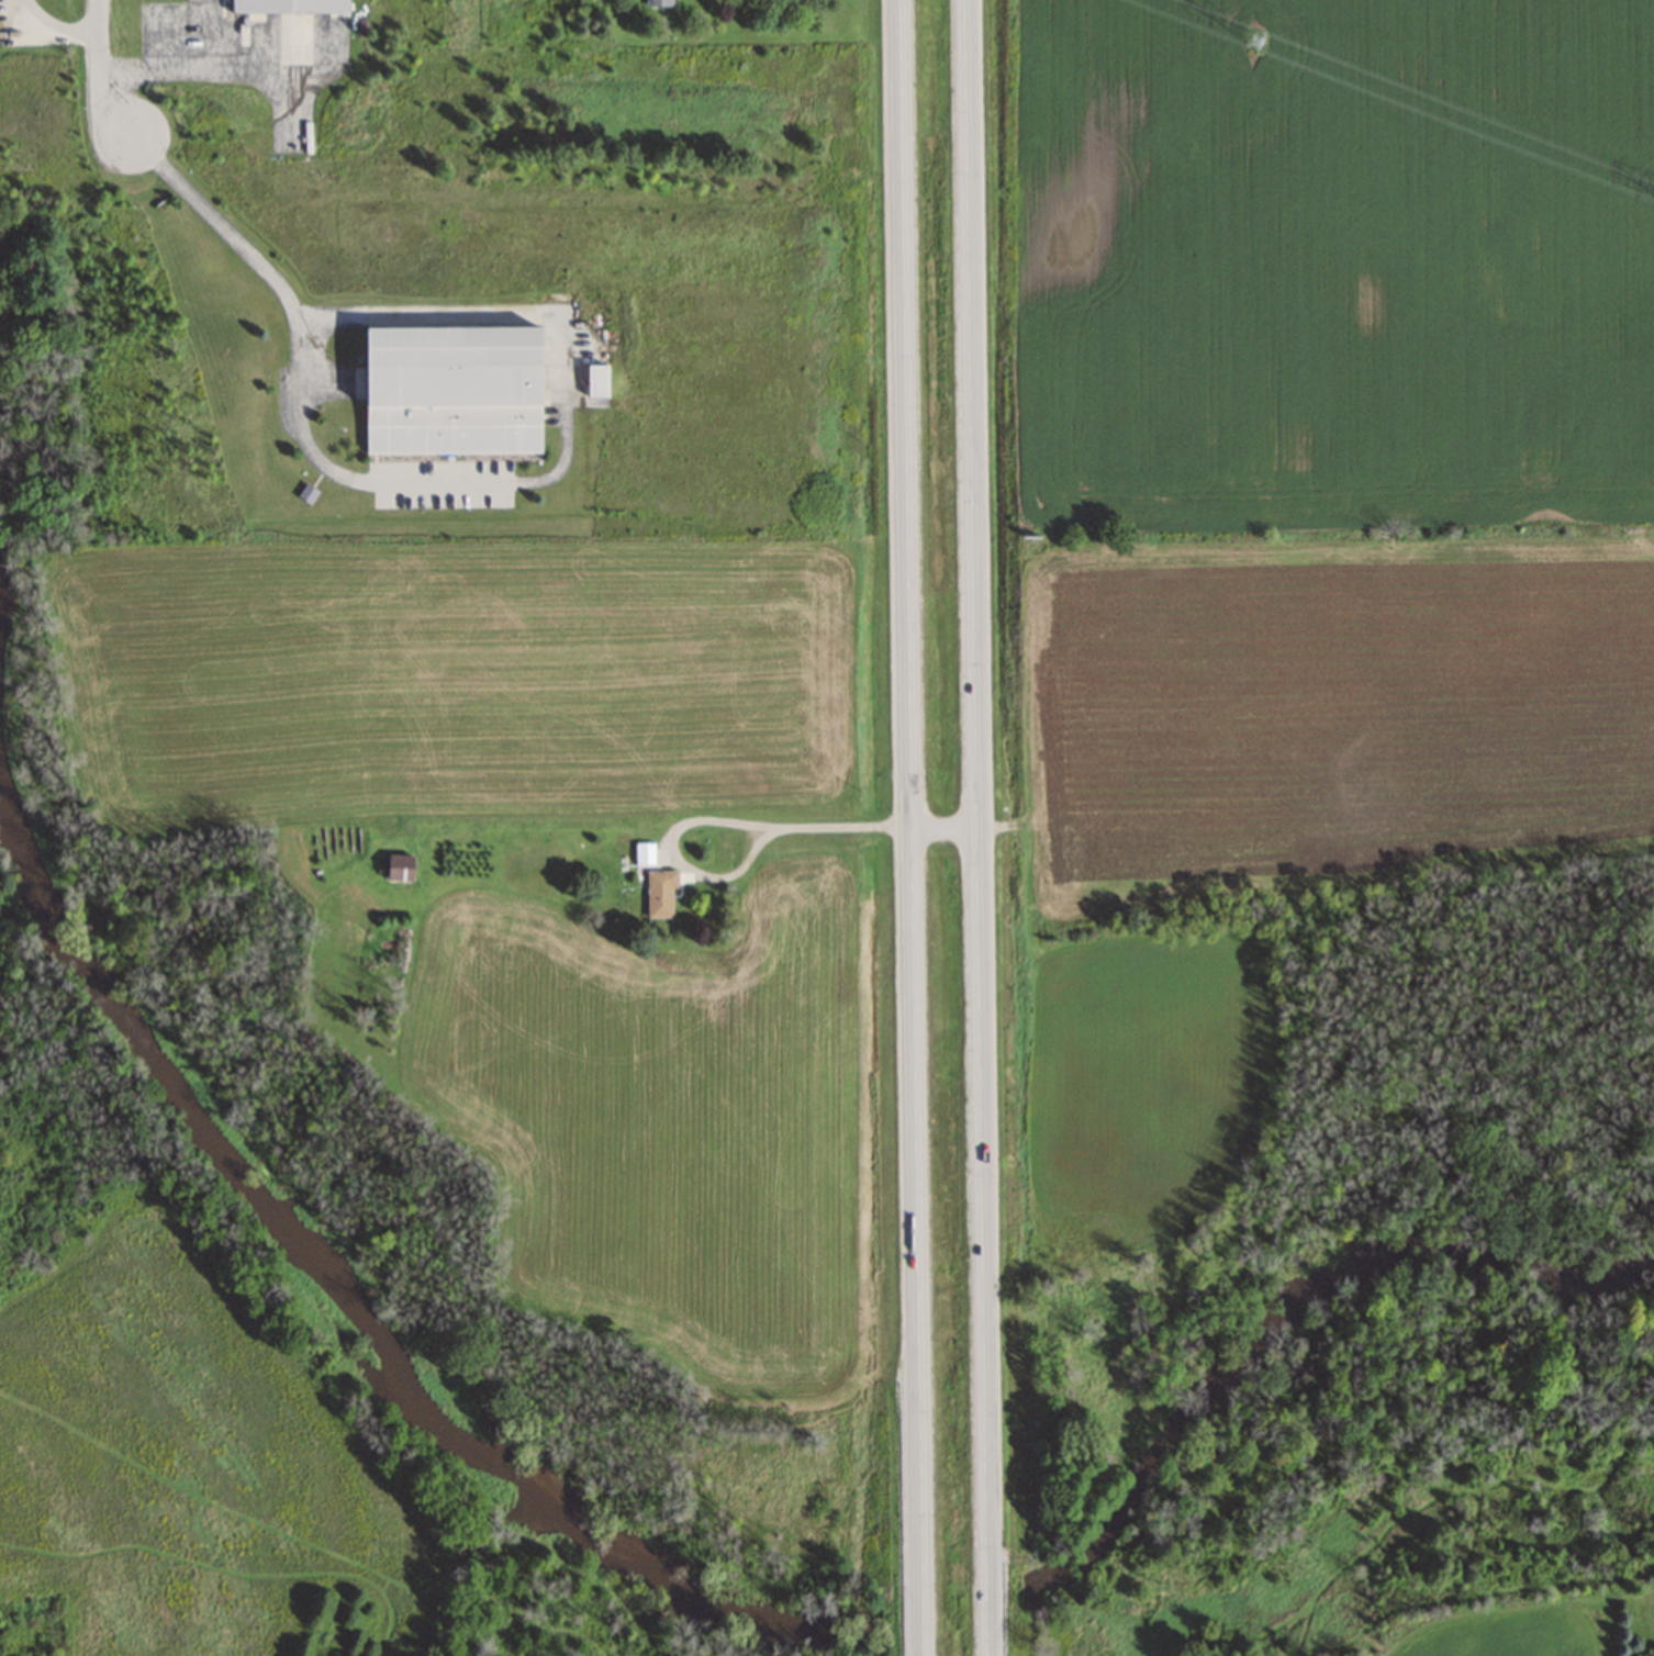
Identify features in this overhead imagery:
building: (658, 2)
building: (289, 5)
power tower: (1254, 37)
road: (172, 66)
road: (98, 70)
building: (596, 380)
building: (451, 390)
road: (442, 479)
road: (913, 828)
road: (975, 828)
building: (645, 853)
building: (399, 869)
building: (660, 894)
river: (339, 1237)
river: (1314, 1341)
river: (951, 1604)

